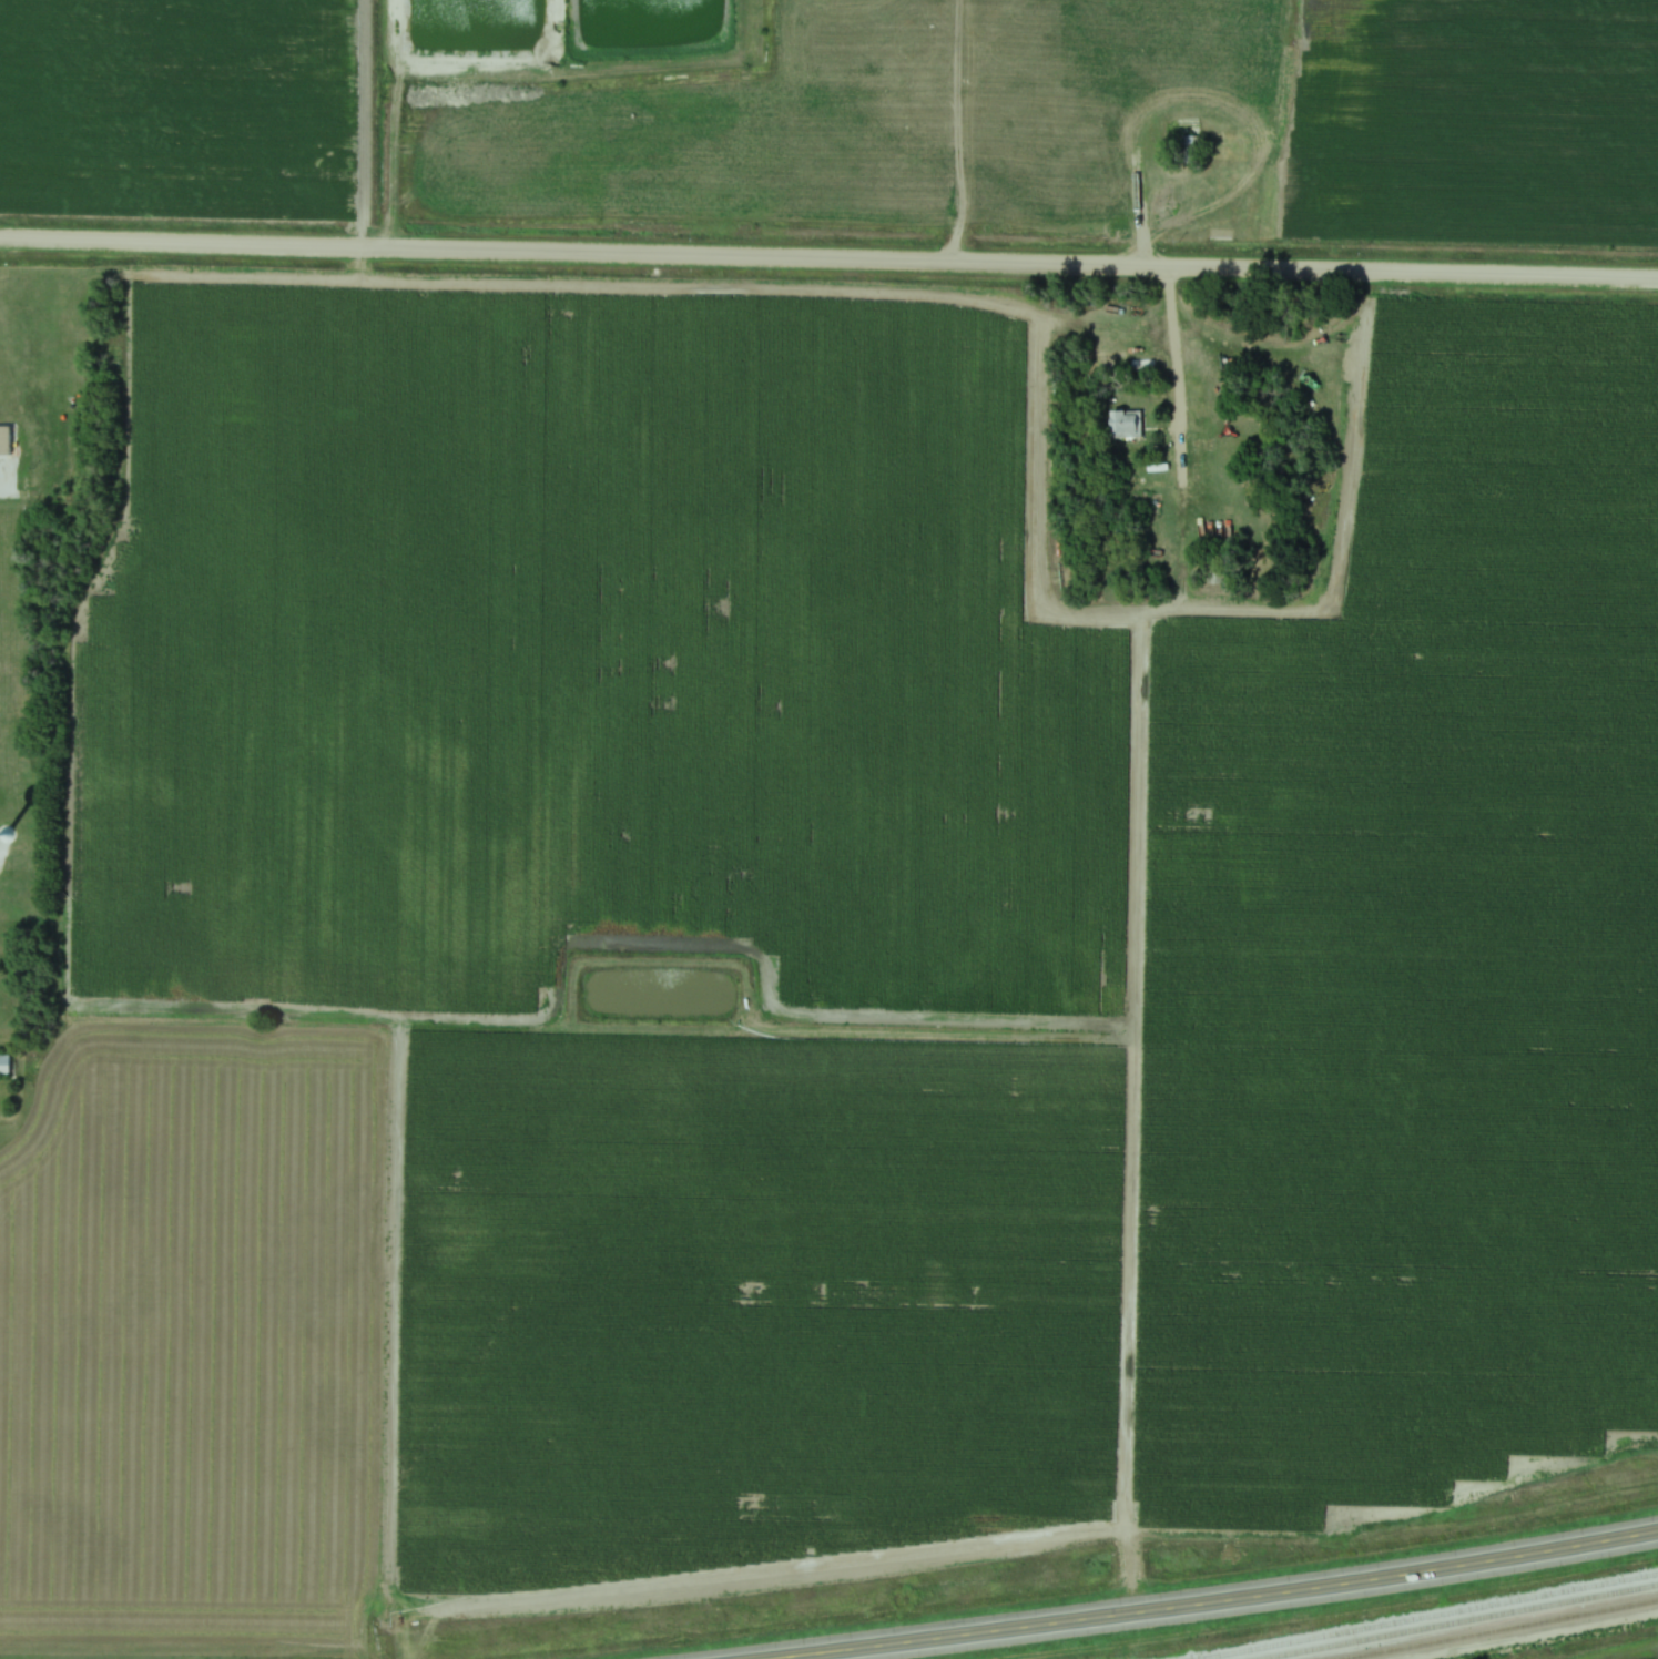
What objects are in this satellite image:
crop: (179, 110)
building: (1187, 121)
crop: (1474, 121)
building: (1188, 149)
road: (828, 262)
road: (1163, 370)
building: (1125, 425)
building: (4, 440)
building: (1282, 571)
building: (1214, 573)
crop: (582, 655)
water tower: (4, 832)
crop: (1414, 953)
building: (3, 1065)
crop: (741, 1293)
road: (1222, 1605)
railway: (1423, 1614)
railway: (1456, 1620)
railway: (1491, 1627)
crop: (1626, 1652)

